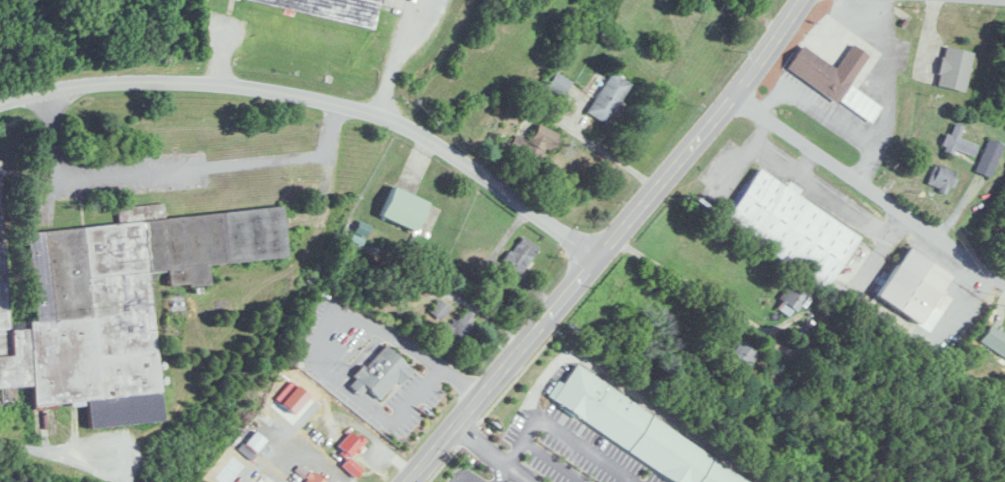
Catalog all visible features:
road: (1002, 0)
building: (332, 8)
road: (403, 54)
building: (955, 69)
building: (832, 83)
building: (560, 85)
road: (890, 90)
building: (609, 98)
road: (319, 101)
road: (819, 114)
road: (582, 136)
building: (543, 140)
building: (960, 141)
building: (990, 158)
road: (808, 160)
road: (173, 166)
building: (943, 178)
road: (870, 182)
road: (815, 186)
building: (404, 208)
building: (791, 228)
road: (609, 243)
building: (521, 254)
building: (914, 285)
building: (793, 299)
building: (115, 302)
building: (439, 310)
road: (749, 320)
building: (459, 328)
road: (320, 333)
building: (995, 339)
building: (743, 355)
building: (381, 373)
road: (569, 433)
building: (638, 434)
building: (256, 441)
building: (351, 444)
road: (55, 453)
road: (496, 454)
road: (554, 460)
building: (352, 467)
road: (501, 472)
building: (315, 478)

